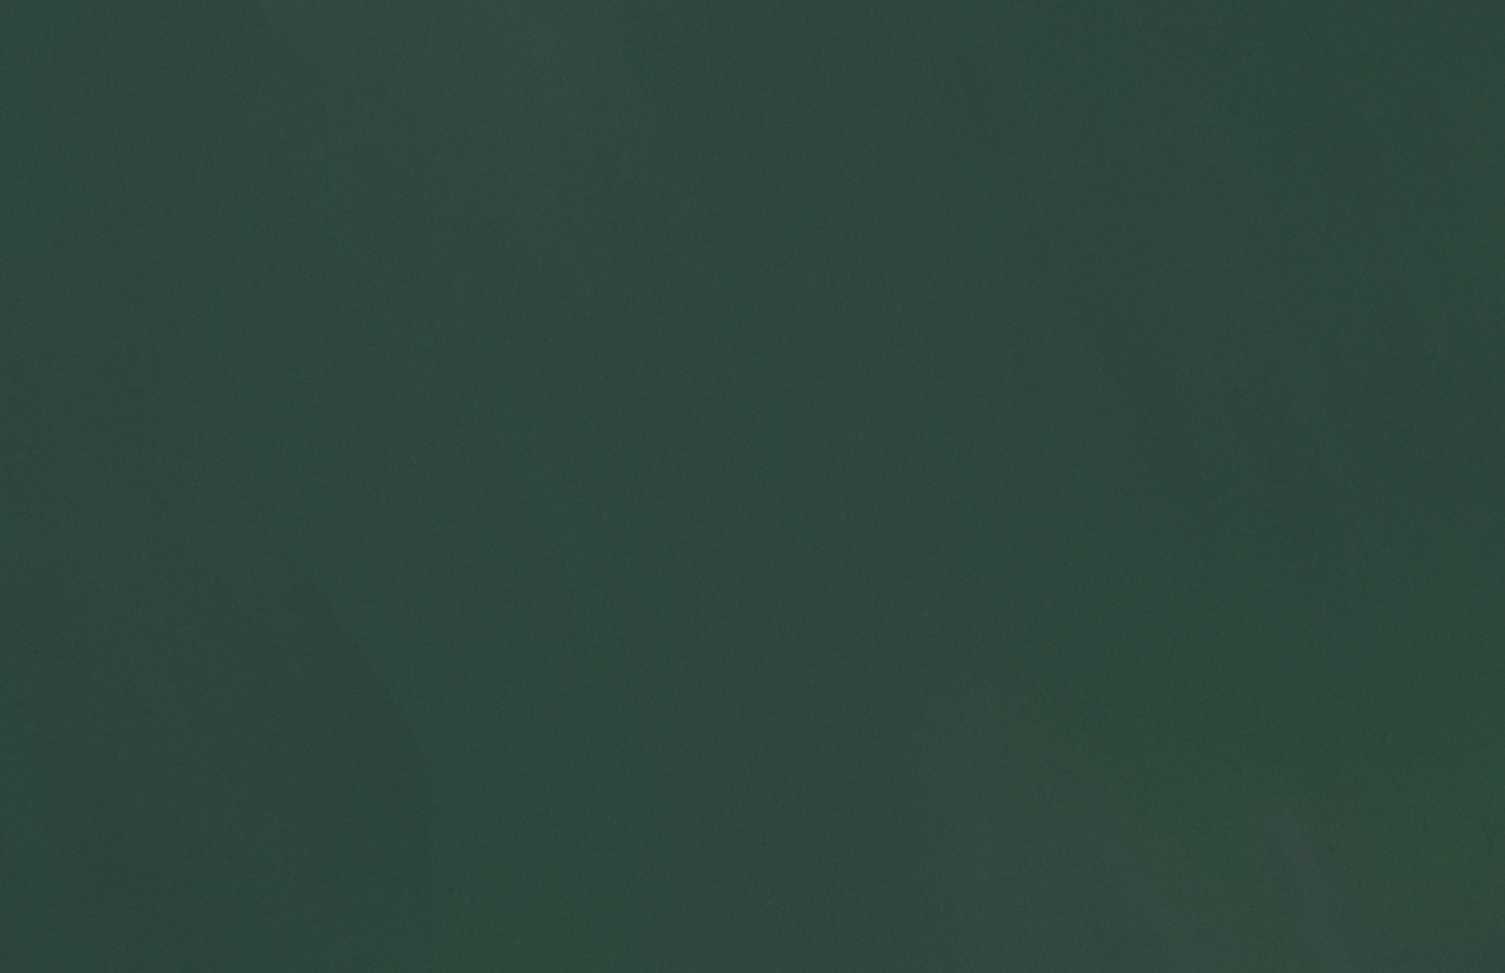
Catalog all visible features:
river: (609, 500)

